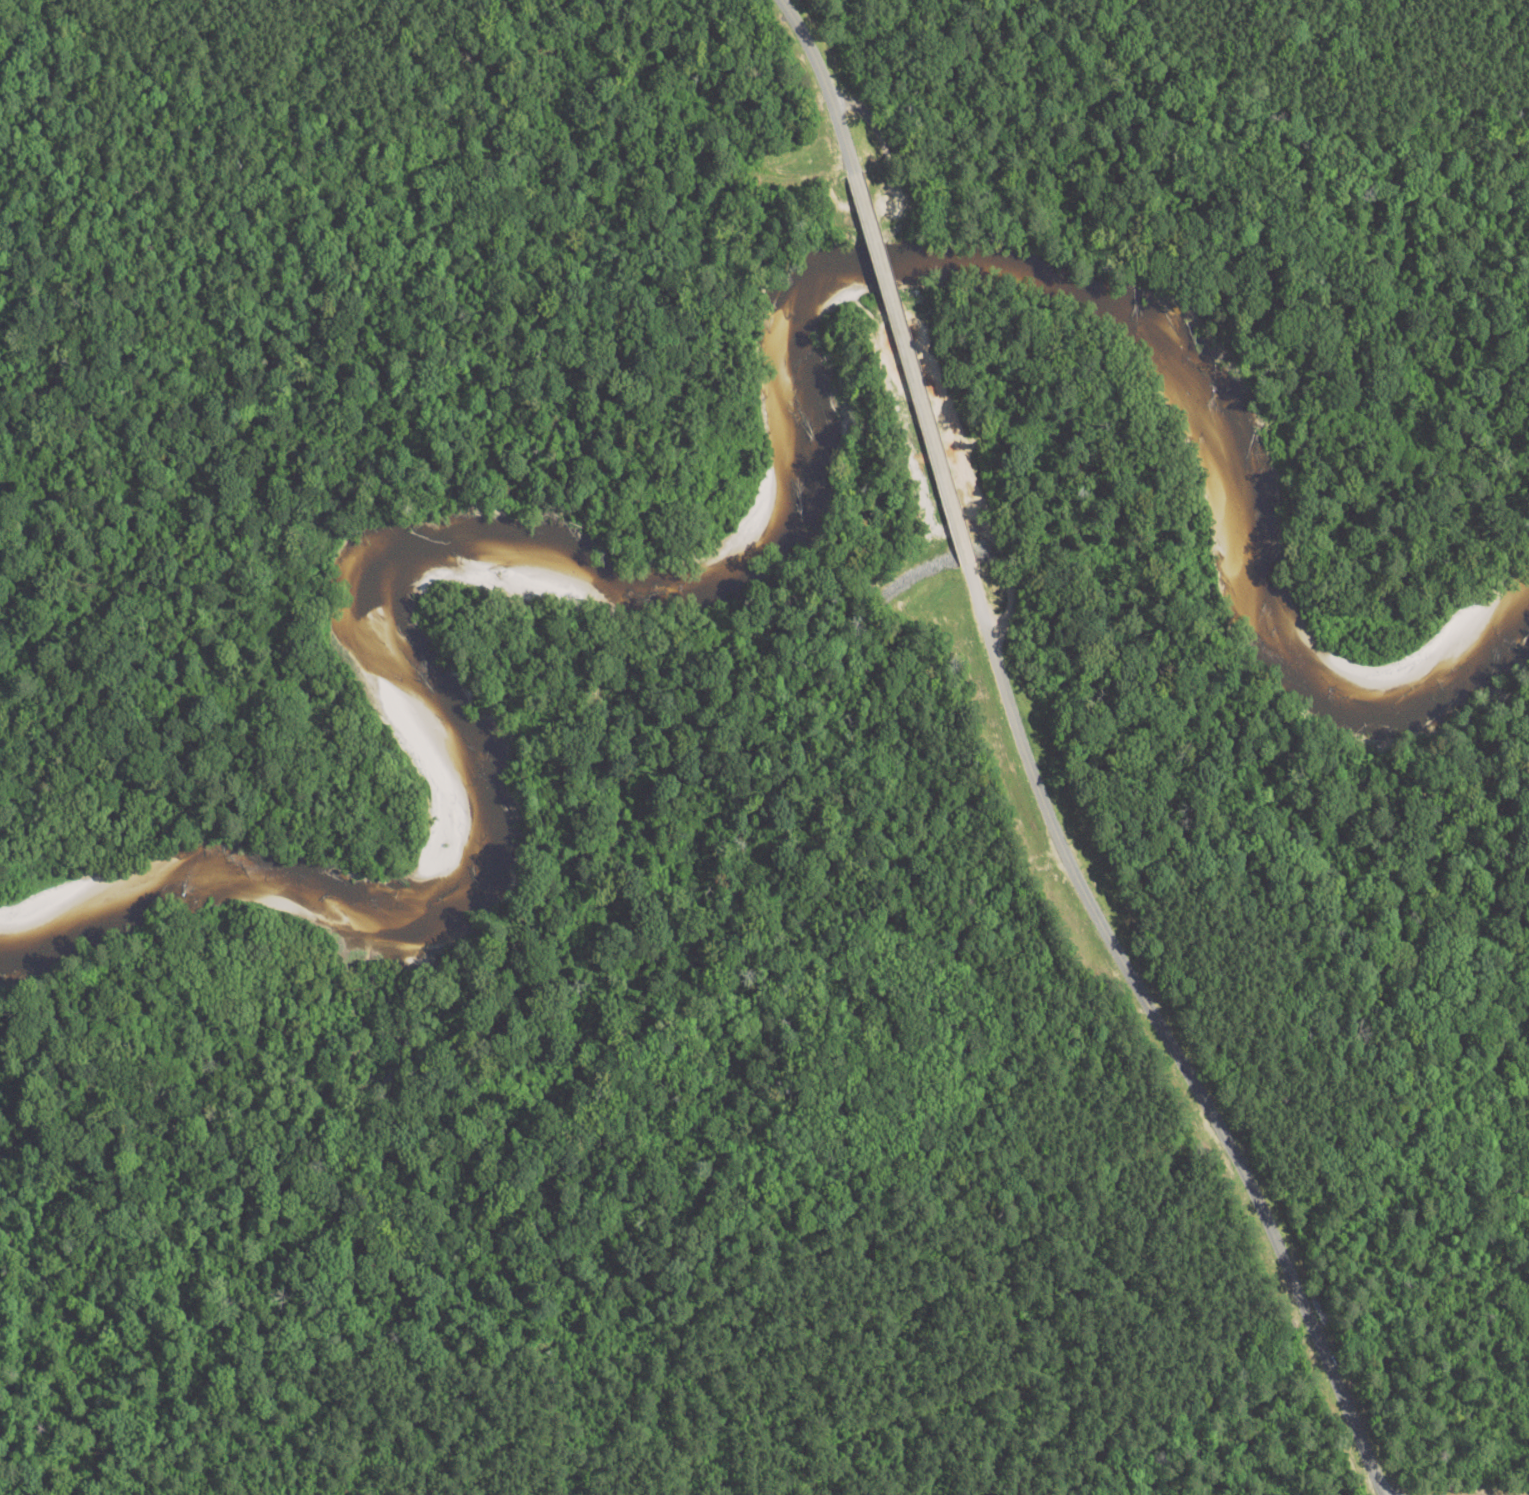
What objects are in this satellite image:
road: (825, 85)
road: (915, 367)
river: (756, 538)
road: (1167, 1032)
road: (1057, 1367)
road: (1426, 1493)

